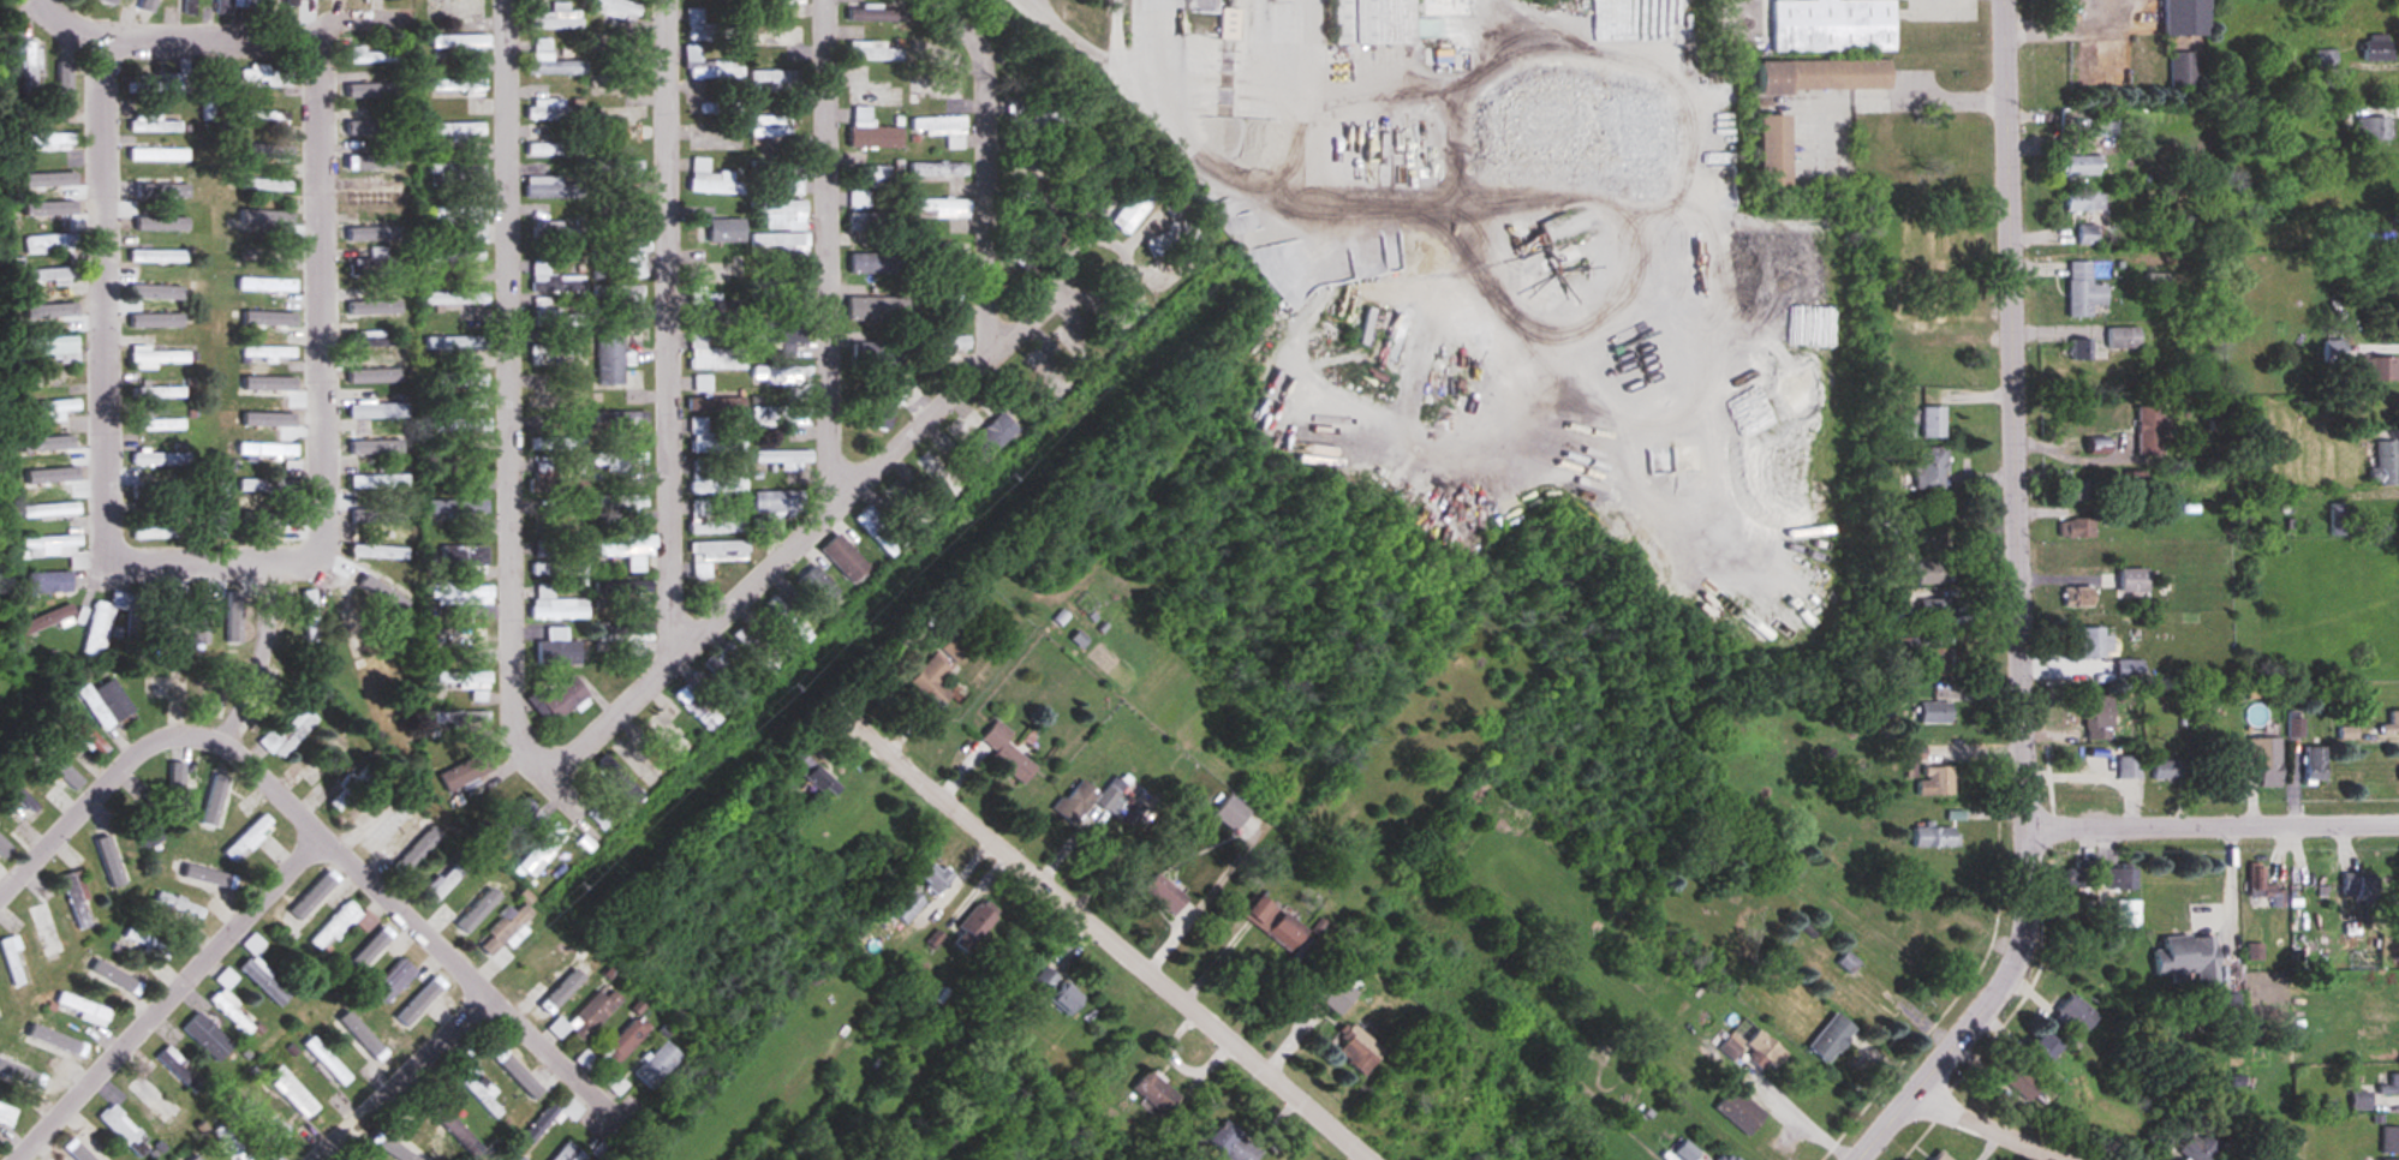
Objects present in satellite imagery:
building: (108, 1)
building: (781, 1)
building: (294, 2)
building: (148, 4)
building: (223, 6)
building: (255, 6)
building: (192, 7)
building: (620, 10)
building: (559, 18)
building: (2182, 18)
building: (1371, 22)
building: (1228, 25)
building: (1831, 25)
building: (711, 29)
road: (1160, 29)
road: (276, 36)
building: (619, 41)
building: (466, 47)
building: (2376, 49)
building: (875, 52)
building: (374, 56)
building: (2323, 60)
building: (553, 61)
building: (32, 67)
building: (710, 67)
building: (2182, 71)
building: (267, 76)
building: (1821, 77)
building: (157, 83)
building: (617, 83)
building: (782, 85)
building: (459, 86)
building: (67, 88)
building: (943, 90)
building: (370, 92)
building: (211, 95)
road: (1932, 96)
building: (879, 97)
building: (723, 108)
building: (26, 109)
building: (556, 110)
road: (1816, 110)
building: (637, 113)
building: (271, 116)
building: (2327, 118)
building: (1032, 120)
building: (159, 124)
building: (372, 124)
building: (2102, 126)
building: (772, 127)
building: (2373, 128)
building: (944, 130)
building: (458, 131)
building: (877, 137)
building: (50, 140)
building: (556, 149)
building: (265, 150)
building: (1770, 150)
building: (161, 155)
building: (374, 160)
building: (2370, 162)
road: (998, 165)
building: (2078, 165)
building: (941, 169)
building: (1038, 171)
building: (627, 172)
building: (463, 174)
building: (783, 174)
building: (872, 177)
building: (49, 179)
building: (714, 180)
building: (550, 184)
building: (161, 186)
building: (271, 187)
building: (378, 193)
building: (860, 199)
building: (2082, 201)
building: (1056, 204)
building: (1115, 204)
building: (47, 208)
building: (942, 208)
building: (1134, 211)
building: (783, 214)
building: (621, 216)
building: (467, 220)
building: (267, 221)
building: (877, 222)
building: (560, 229)
building: (369, 231)
building: (2085, 234)
building: (2375, 234)
building: (1172, 238)
building: (53, 243)
building: (781, 243)
building: (943, 250)
building: (153, 252)
building: (1016, 252)
building: (258, 255)
building: (456, 256)
road: (837, 256)
building: (628, 257)
building: (375, 263)
building: (878, 265)
road: (117, 270)
building: (54, 274)
building: (555, 279)
building: (2082, 289)
road: (330, 291)
building: (621, 293)
building: (784, 293)
building: (376, 309)
building: (720, 311)
building: (59, 312)
building: (876, 312)
building: (556, 315)
building: (271, 321)
road: (673, 329)
building: (783, 335)
building: (2121, 337)
building: (375, 341)
building: (942, 342)
building: (1076, 342)
building: (52, 345)
building: (2078, 348)
building: (556, 351)
building: (2333, 351)
building: (635, 353)
building: (270, 354)
building: (715, 355)
building: (160, 357)
building: (879, 360)
building: (2376, 369)
building: (377, 375)
building: (620, 377)
building: (787, 379)
building: (704, 384)
road: (520, 385)
building: (265, 387)
building: (467, 387)
building: (160, 391)
building: (561, 399)
building: (717, 403)
building: (884, 406)
building: (48, 411)
building: (380, 411)
building: (782, 417)
building: (269, 419)
building: (1002, 419)
building: (1933, 423)
building: (461, 424)
building: (625, 424)
building: (161, 425)
building: (1900, 427)
building: (2148, 430)
building: (715, 438)
building: (973, 441)
building: (560, 443)
building: (945, 444)
building: (381, 447)
building: (2095, 447)
building: (269, 450)
building: (786, 459)
building: (162, 460)
building: (619, 461)
building: (2383, 464)
building: (463, 465)
building: (1927, 468)
building: (941, 476)
building: (49, 477)
building: (543, 479)
building: (715, 480)
building: (2135, 480)
building: (381, 482)
building: (270, 488)
building: (160, 489)
building: (2077, 490)
building: (619, 501)
building: (778, 507)
building: (908, 507)
building: (222, 509)
building: (52, 510)
road: (840, 510)
building: (271, 519)
building: (2337, 519)
building: (714, 521)
building: (2076, 527)
building: (159, 531)
building: (882, 531)
building: (56, 549)
building: (629, 549)
building: (381, 552)
building: (717, 555)
building: (465, 556)
road: (227, 560)
building: (1894, 561)
building: (555, 562)
building: (845, 563)
building: (1930, 572)
building: (2131, 580)
building: (50, 582)
building: (625, 587)
building: (383, 593)
building: (464, 594)
building: (2076, 597)
building: (557, 605)
road: (2021, 609)
building: (1933, 611)
building: (312, 616)
building: (52, 617)
building: (169, 617)
building: (234, 617)
building: (278, 621)
building: (790, 621)
building: (203, 623)
building: (100, 630)
building: (352, 633)
building: (628, 634)
building: (2095, 642)
building: (559, 648)
building: (757, 651)
building: (1936, 658)
building: (2128, 670)
building: (727, 678)
building: (467, 680)
building: (936, 681)
building: (216, 698)
building: (561, 701)
building: (255, 702)
building: (107, 705)
building: (698, 705)
building: (1933, 713)
building: (461, 718)
building: (2095, 718)
building: (2391, 723)
building: (85, 735)
building: (291, 735)
building: (673, 739)
building: (1004, 752)
building: (1912, 759)
building: (635, 761)
building: (2264, 761)
building: (328, 763)
building: (2081, 764)
building: (2313, 765)
building: (2129, 766)
building: (54, 769)
building: (2164, 770)
building: (466, 771)
building: (820, 778)
building: (621, 782)
building: (1934, 782)
building: (352, 787)
building: (23, 799)
building: (1093, 800)
building: (219, 803)
road: (102, 805)
building: (1228, 813)
building: (599, 819)
road: (2213, 824)
building: (147, 826)
building: (1932, 837)
building: (418, 848)
building: (113, 860)
building: (2076, 875)
building: (449, 877)
building: (937, 877)
building: (2120, 878)
building: (2261, 887)
building: (2355, 892)
building: (1162, 893)
road: (2232, 898)
building: (78, 901)
building: (908, 905)
building: (983, 919)
building: (1270, 922)
building: (338, 925)
building: (505, 928)
building: (46, 933)
road: (424, 933)
road: (1102, 937)
building: (2321, 938)
building: (148, 943)
building: (255, 944)
building: (2184, 957)
building: (14, 961)
building: (113, 976)
building: (264, 981)
building: (1058, 989)
building: (561, 991)
building: (1332, 992)
building: (2387, 992)
building: (229, 1003)
road: (180, 1005)
building: (419, 1005)
building: (2224, 1005)
building: (86, 1009)
building: (595, 1013)
building: (2070, 1016)
building: (209, 1036)
building: (1828, 1039)
building: (52, 1042)
building: (625, 1044)
building: (2040, 1046)
building: (1354, 1048)
building: (1760, 1051)
building: (329, 1060)
building: (658, 1065)
building: (179, 1070)
building: (517, 1070)
road: (405, 1078)
building: (2018, 1082)
building: (2389, 1086)
building: (294, 1092)
building: (1157, 1092)
building: (482, 1096)
building: (153, 1101)
building: (573, 1110)
building: (1737, 1111)
building: (6, 1114)
building: (264, 1122)
building: (541, 1124)
road: (1804, 1124)
road: (1992, 1125)
building: (124, 1132)
building: (2388, 1141)
building: (1236, 1143)
building: (232, 1144)
building: (2194, 1148)
building: (88, 1149)
building: (371, 1150)
building: (569, 1153)
building: (1938, 1156)
building: (196, 1158)
building: (1735, 1159)

